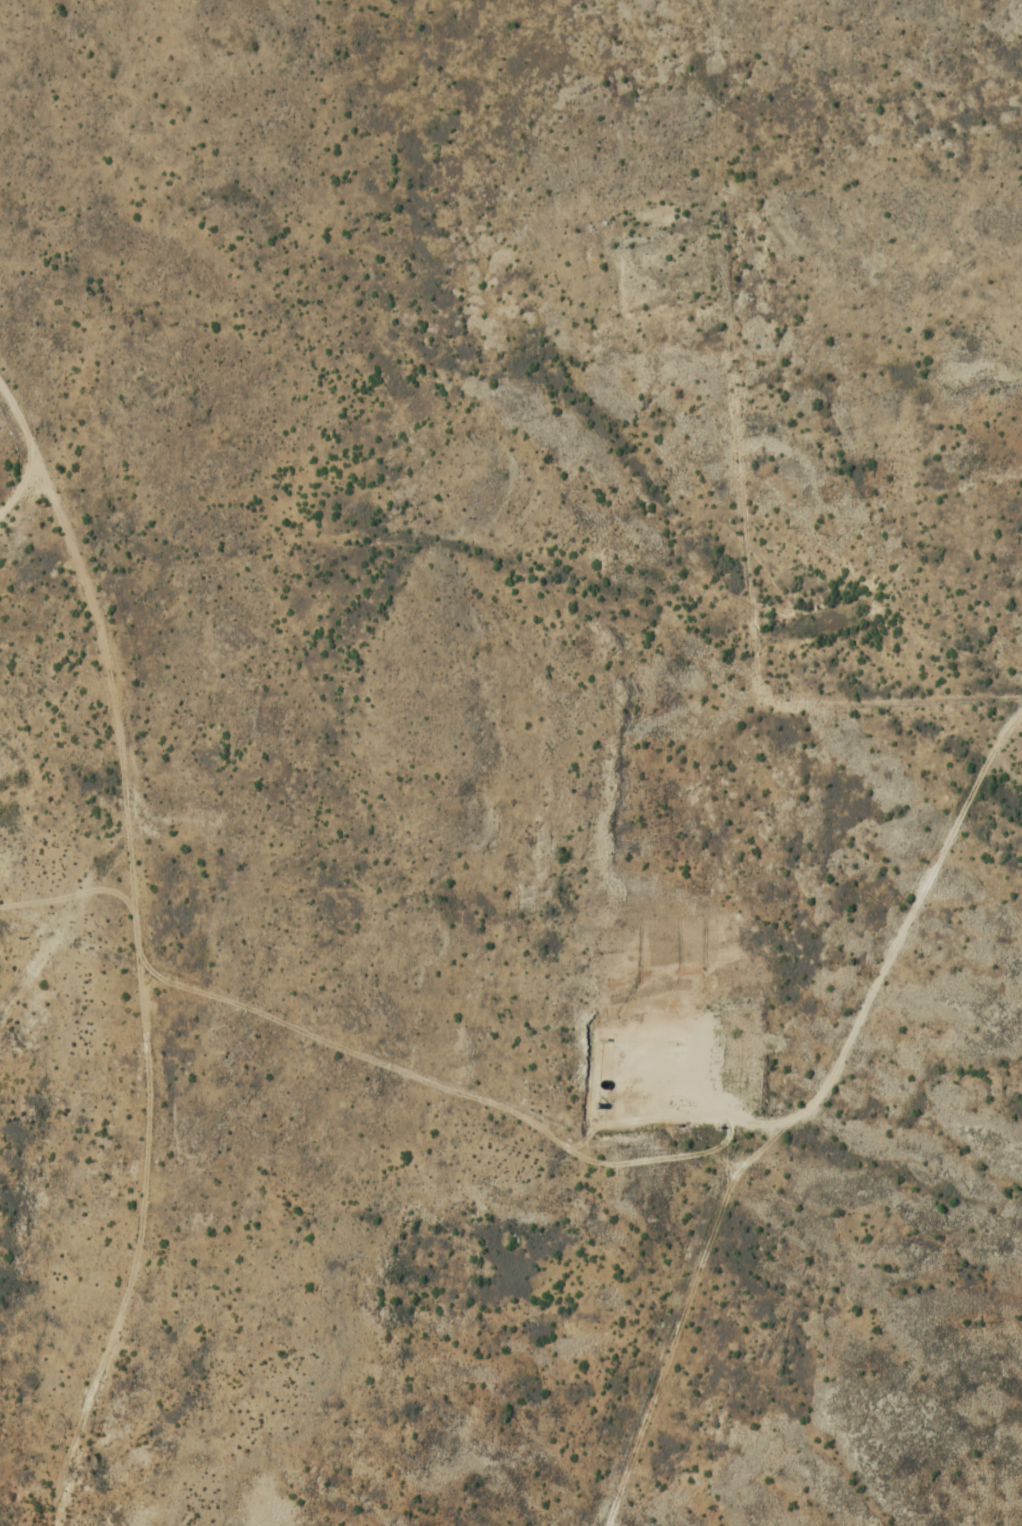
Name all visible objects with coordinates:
road: (741, 474)
road: (68, 910)
road: (140, 948)
road: (874, 1003)

